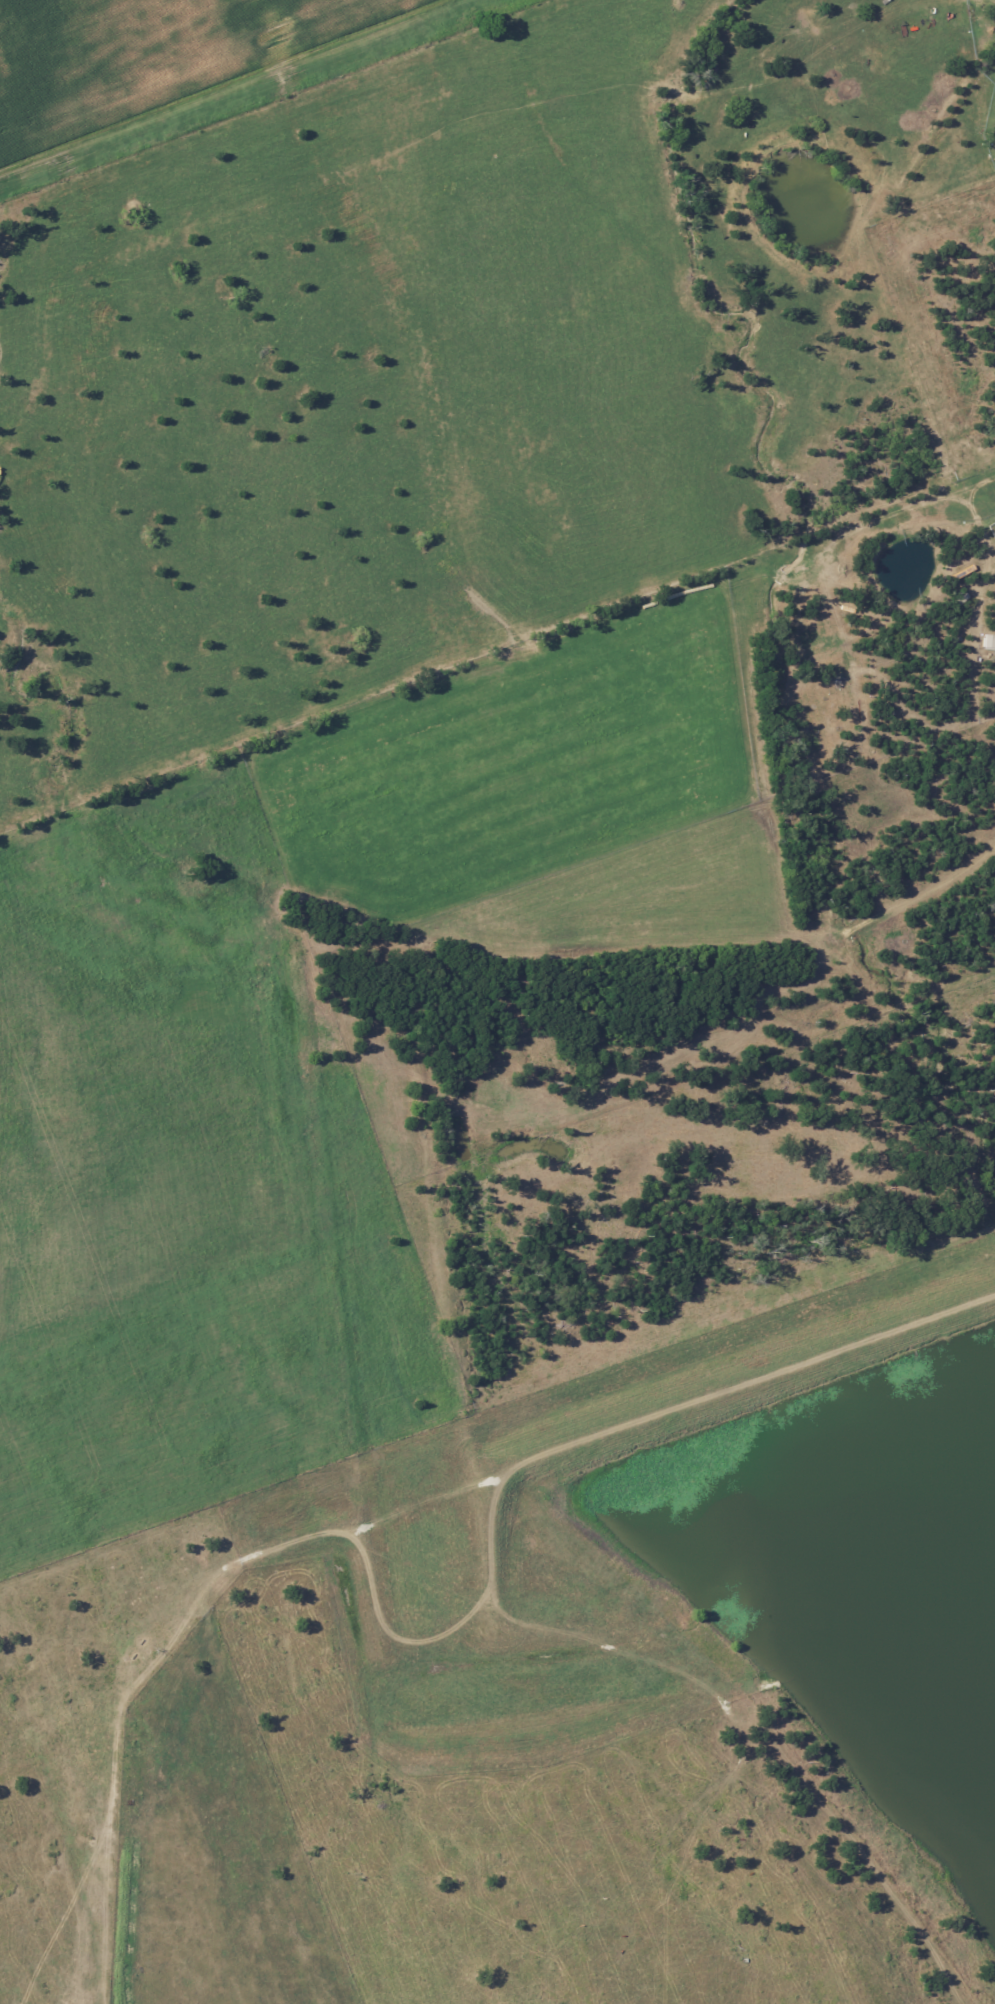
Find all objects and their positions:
dam: (762, 1407)

